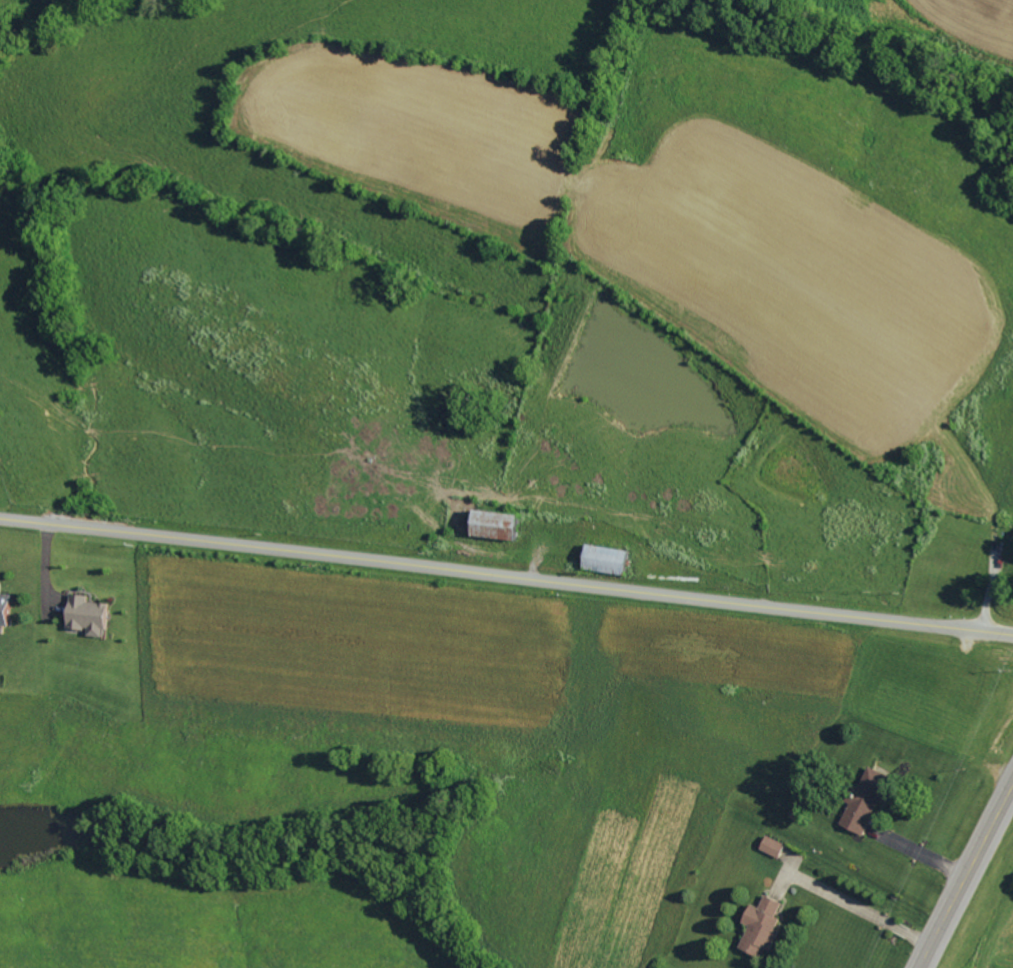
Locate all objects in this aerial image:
crop: (419, 124)
crop: (791, 276)
building: (499, 524)
building: (609, 558)
road: (506, 572)
building: (92, 615)
building: (871, 801)
building: (777, 846)
road: (966, 875)
building: (766, 927)

